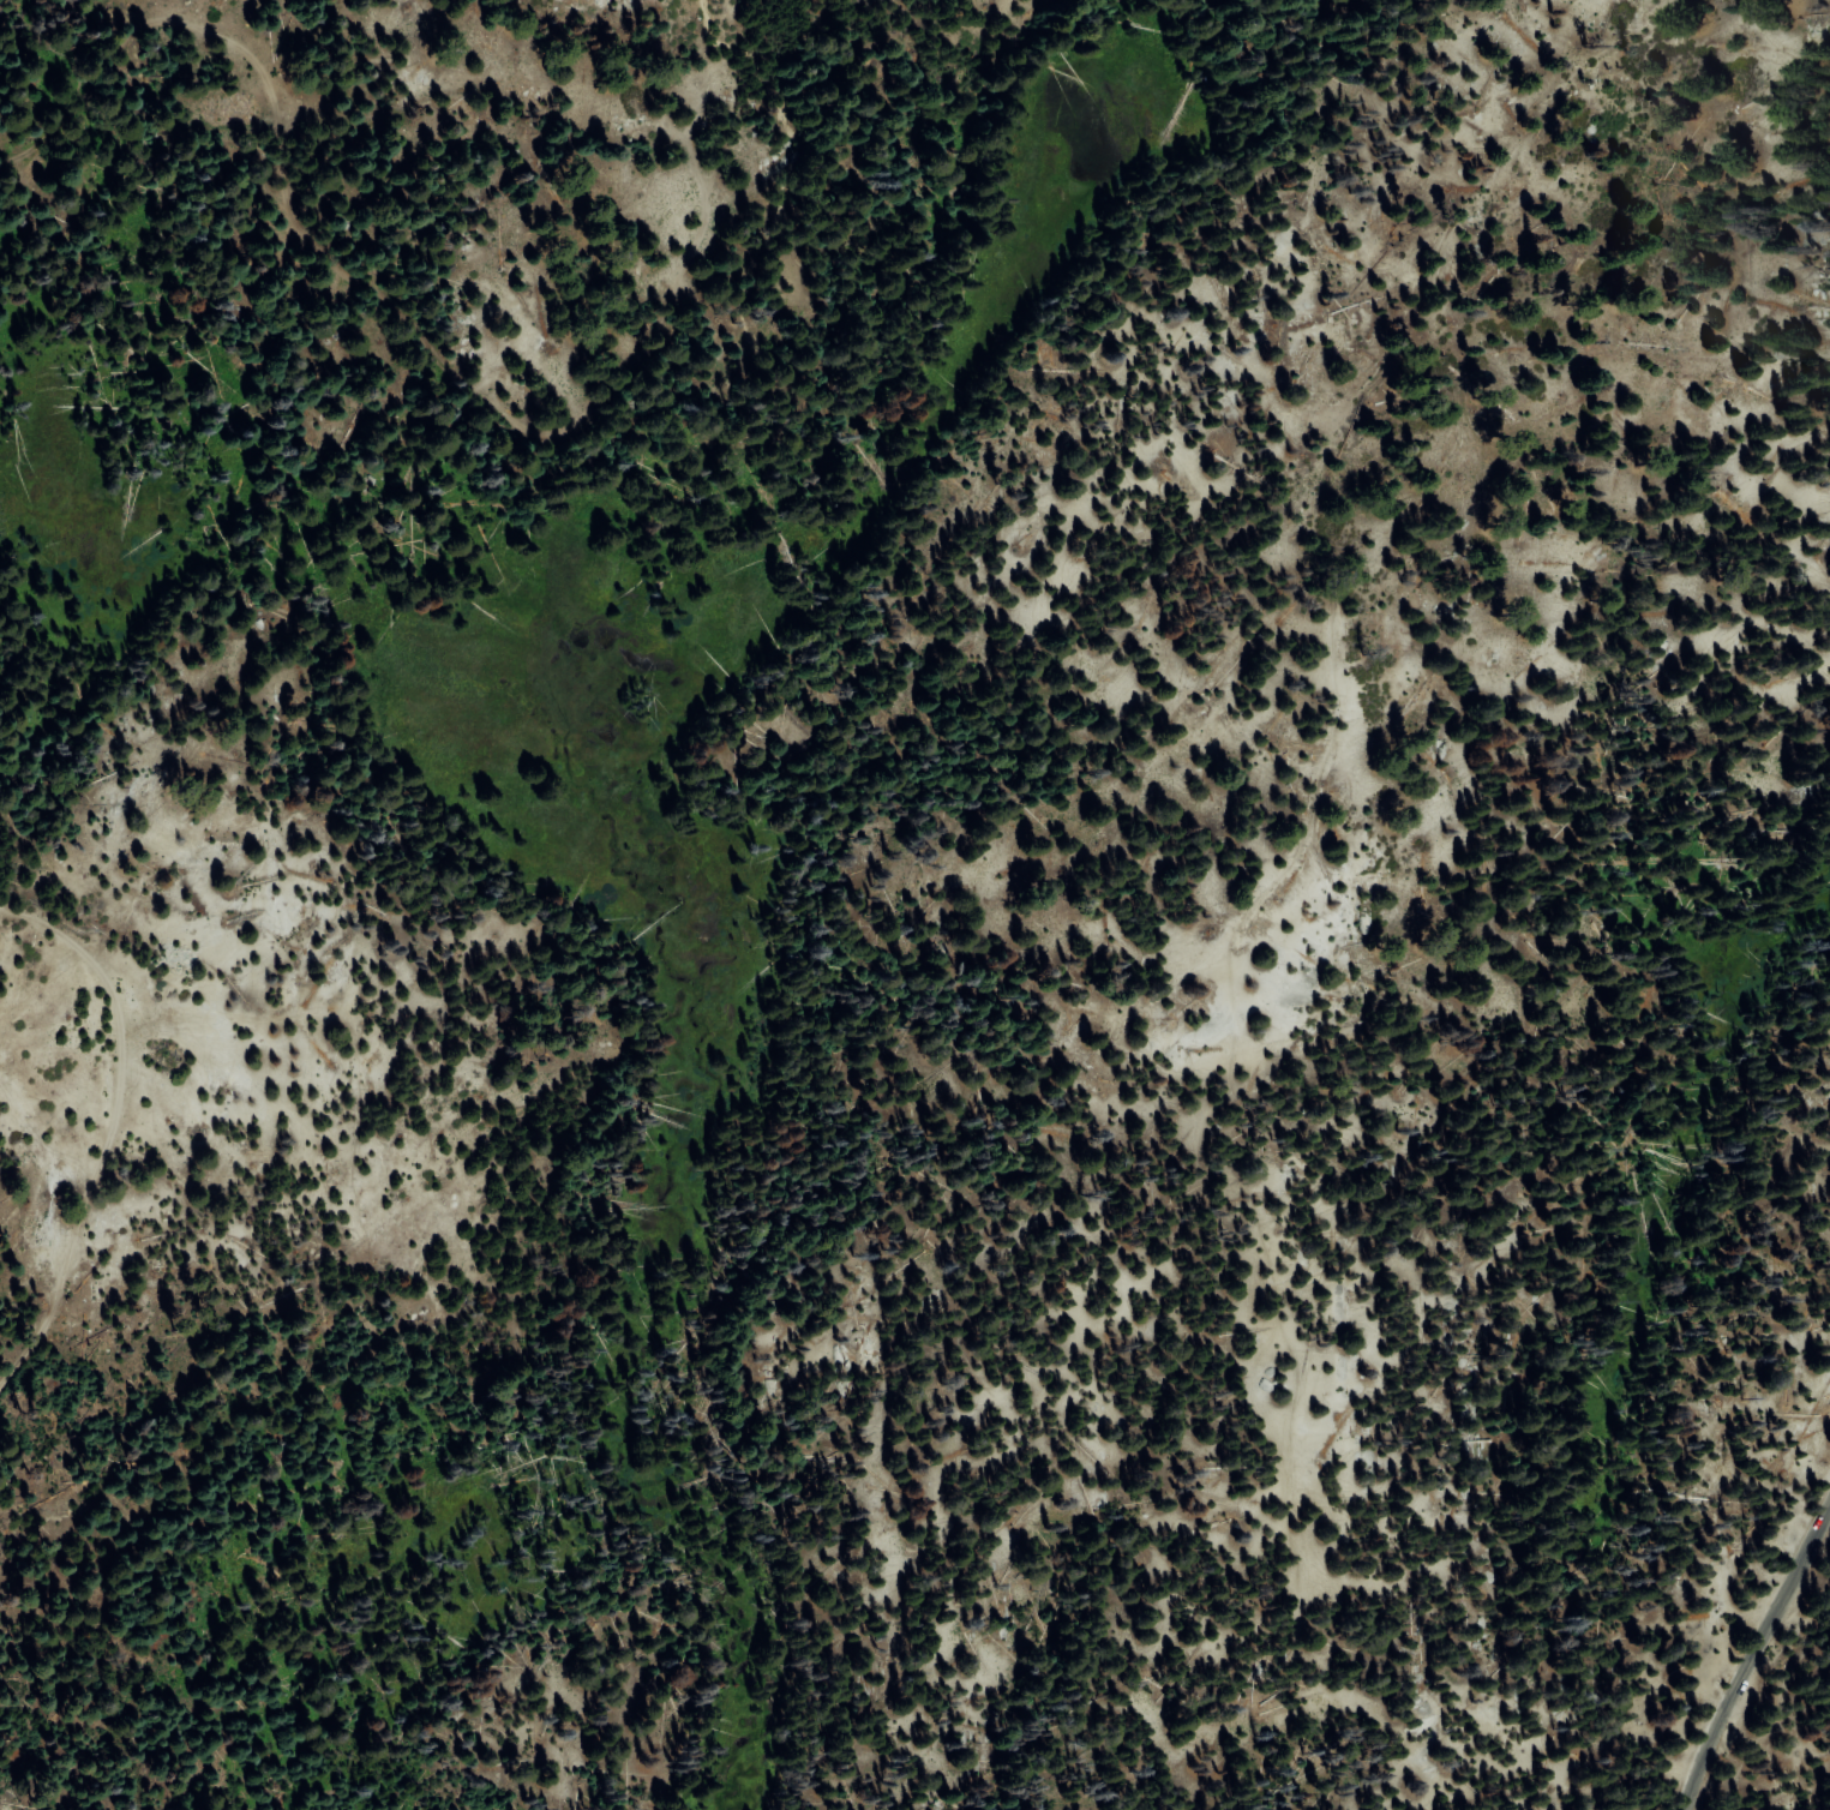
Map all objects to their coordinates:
building: (1, 565)
building: (275, 643)
road: (1754, 1660)

